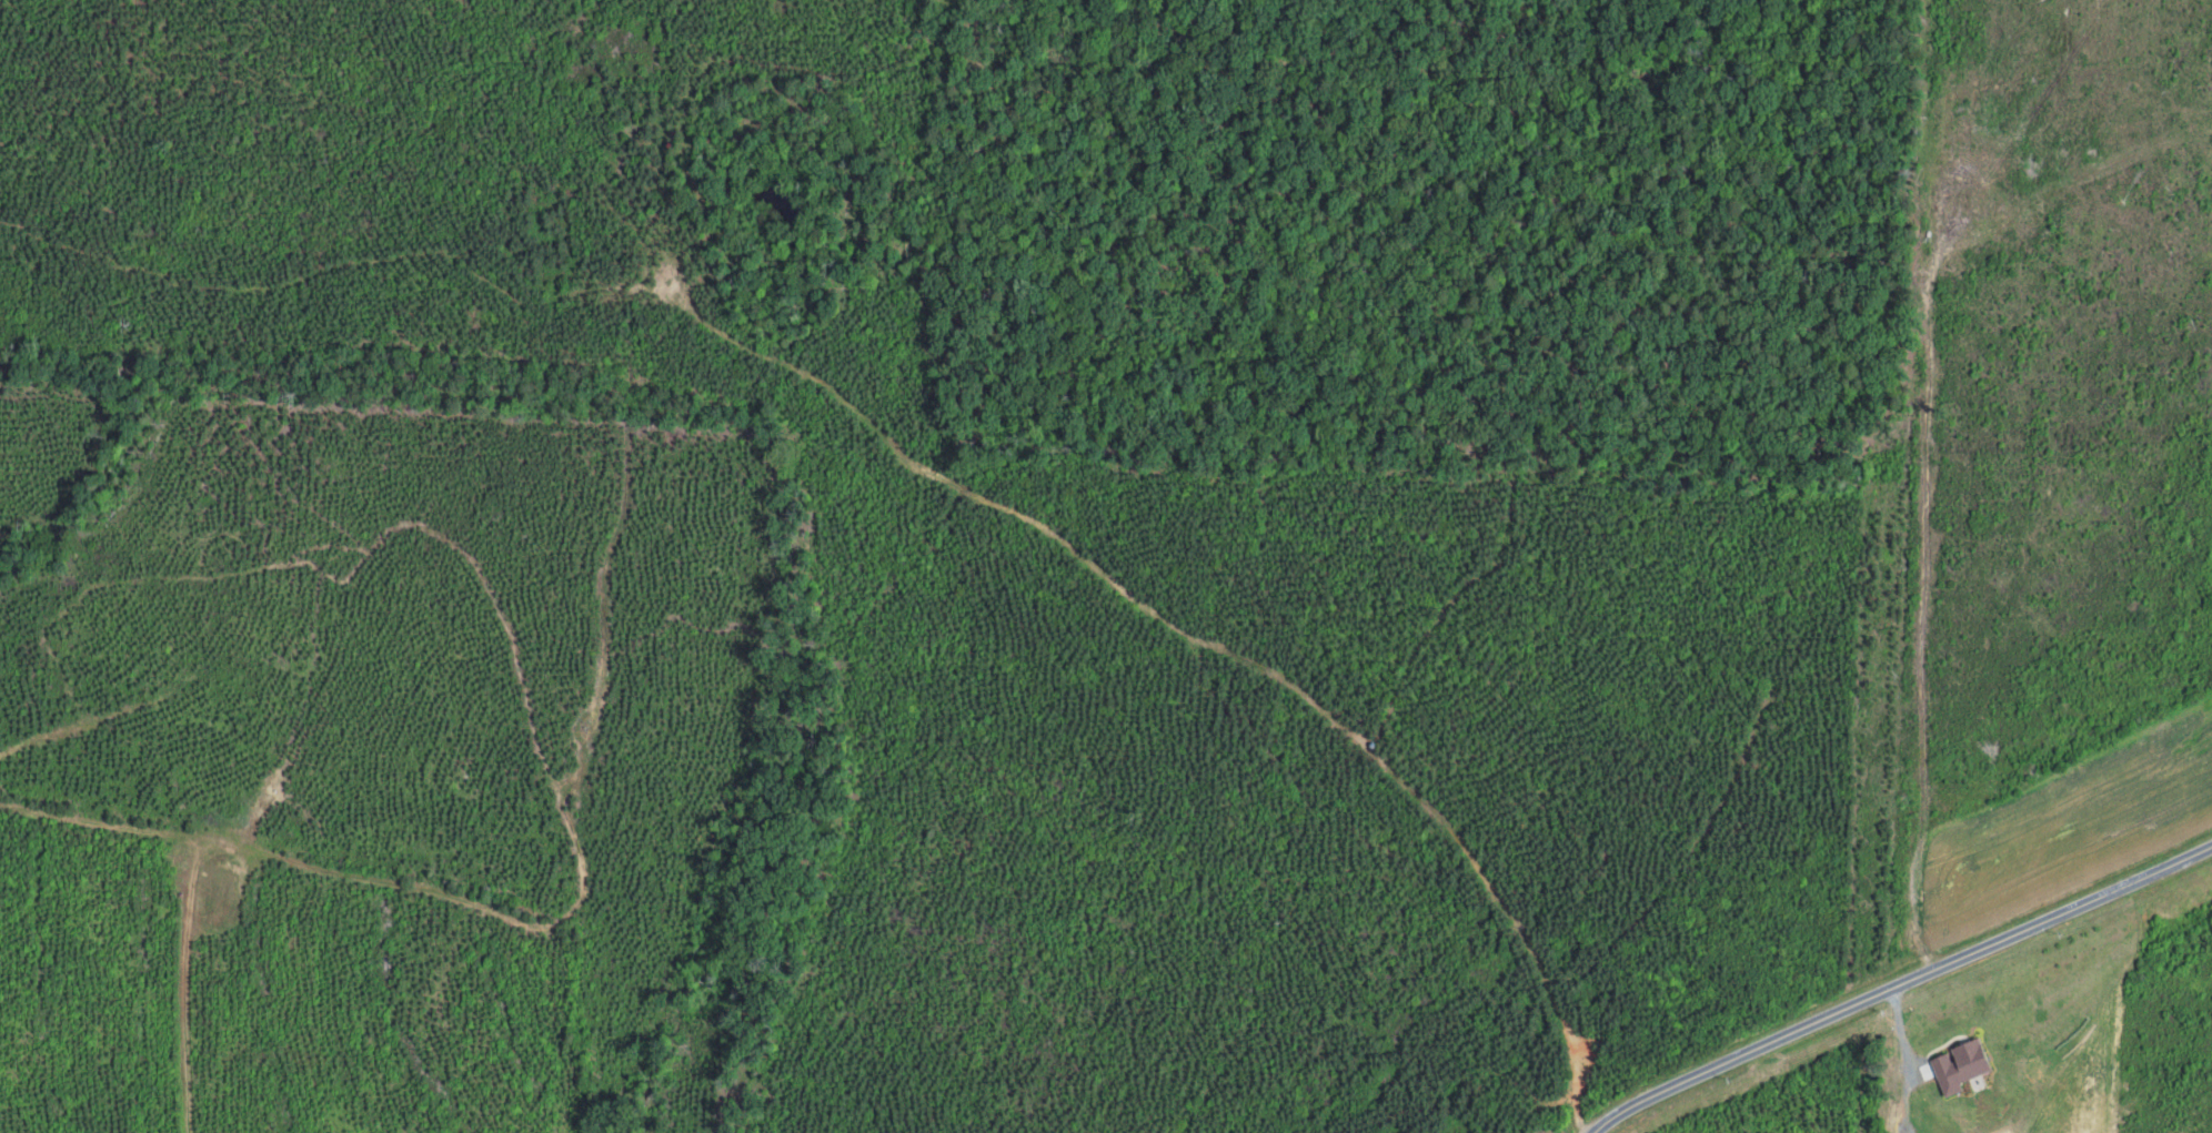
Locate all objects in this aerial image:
road: (1519, 923)
road: (1899, 982)
building: (1961, 1063)

